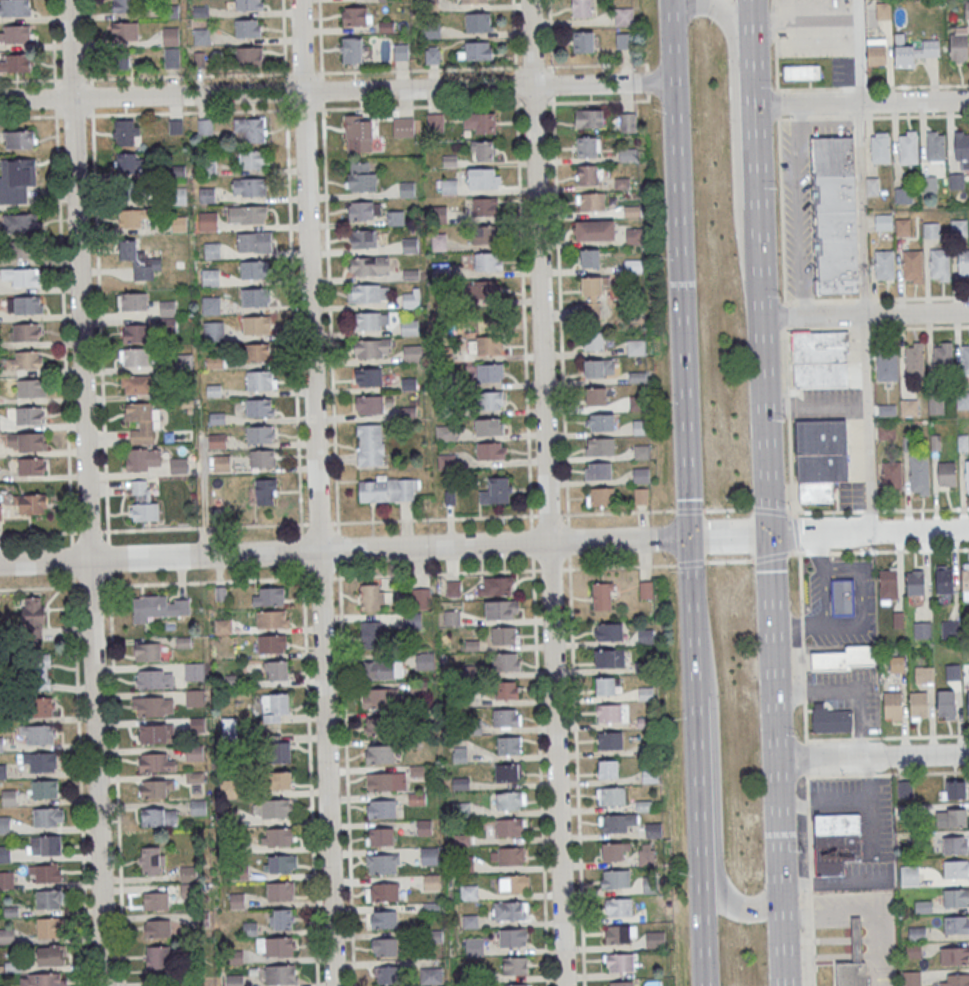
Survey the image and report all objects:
building: (387, 0)
building: (474, 1)
building: (249, 5)
building: (431, 5)
building: (123, 6)
building: (15, 8)
building: (583, 8)
building: (967, 9)
building: (884, 11)
building: (356, 15)
building: (624, 16)
building: (479, 22)
building: (387, 26)
building: (248, 28)
building: (124, 30)
building: (432, 30)
building: (14, 33)
road: (513, 33)
road: (550, 33)
building: (201, 36)
road: (284, 36)
building: (624, 40)
building: (585, 41)
road: (671, 42)
building: (171, 47)
building: (959, 47)
building: (352, 50)
building: (477, 50)
building: (401, 52)
road: (755, 54)
building: (877, 54)
building: (249, 55)
building: (432, 55)
building: (904, 55)
building: (199, 58)
building: (122, 61)
building: (14, 62)
road: (599, 64)
road: (533, 66)
building: (800, 72)
road: (257, 73)
road: (646, 81)
road: (552, 83)
road: (515, 85)
road: (918, 85)
road: (861, 87)
road: (815, 88)
road: (336, 90)
road: (600, 101)
road: (534, 102)
road: (863, 104)
road: (227, 110)
road: (916, 114)
road: (27, 116)
road: (815, 117)
road: (857, 117)
building: (589, 118)
building: (434, 121)
building: (479, 122)
building: (627, 122)
building: (204, 126)
building: (403, 127)
road: (735, 128)
building: (250, 129)
building: (126, 132)
building: (359, 133)
building: (19, 139)
building: (961, 145)
building: (588, 147)
building: (908, 147)
building: (936, 147)
building: (881, 148)
building: (482, 150)
road: (779, 151)
building: (628, 154)
building: (252, 159)
road: (760, 160)
building: (127, 163)
building: (588, 174)
building: (361, 177)
building: (484, 178)
building: (16, 180)
building: (957, 181)
building: (621, 183)
building: (929, 185)
building: (249, 186)
building: (448, 186)
building: (872, 186)
building: (134, 190)
building: (206, 195)
building: (904, 196)
building: (591, 201)
building: (485, 206)
building: (360, 210)
building: (438, 210)
building: (247, 214)
building: (835, 215)
building: (395, 217)
building: (130, 220)
building: (207, 221)
building: (884, 222)
building: (19, 223)
building: (903, 227)
building: (959, 228)
building: (595, 230)
building: (931, 230)
building: (486, 234)
building: (363, 238)
building: (254, 241)
building: (22, 249)
building: (130, 251)
building: (589, 258)
building: (487, 261)
road: (763, 263)
building: (964, 263)
building: (940, 264)
road: (862, 265)
building: (885, 265)
building: (369, 266)
building: (913, 266)
building: (253, 269)
building: (22, 276)
building: (482, 290)
building: (368, 293)
building: (255, 297)
building: (592, 297)
road: (919, 297)
building: (411, 299)
road: (822, 299)
road: (865, 299)
building: (132, 301)
building: (24, 305)
building: (210, 305)
building: (167, 308)
road: (560, 308)
road: (523, 309)
road: (682, 310)
road: (866, 312)
road: (784, 314)
building: (372, 320)
building: (256, 325)
building: (409, 327)
road: (877, 327)
building: (213, 330)
building: (26, 331)
building: (135, 333)
building: (593, 341)
building: (485, 345)
building: (637, 346)
building: (374, 348)
building: (257, 352)
building: (412, 353)
building: (134, 357)
building: (821, 359)
building: (915, 359)
building: (944, 359)
building: (965, 359)
building: (25, 360)
building: (887, 364)
building: (599, 367)
building: (490, 372)
building: (368, 376)
building: (259, 380)
building: (136, 384)
building: (30, 387)
building: (596, 396)
building: (963, 399)
building: (490, 400)
building: (369, 404)
building: (935, 405)
building: (908, 406)
building: (259, 408)
building: (29, 415)
road: (788, 420)
building: (141, 422)
building: (601, 422)
road: (768, 425)
building: (491, 426)
building: (640, 427)
building: (888, 432)
building: (260, 433)
building: (443, 433)
building: (217, 440)
building: (26, 441)
building: (370, 444)
building: (600, 446)
building: (490, 450)
building: (642, 451)
building: (262, 458)
building: (143, 459)
building: (821, 459)
building: (221, 462)
building: (178, 465)
building: (31, 466)
building: (598, 470)
building: (891, 474)
building: (920, 474)
building: (948, 474)
building: (641, 475)
building: (967, 476)
building: (387, 490)
building: (266, 491)
building: (497, 491)
road: (335, 492)
road: (85, 493)
road: (316, 493)
road: (546, 493)
building: (599, 496)
building: (641, 496)
road: (203, 498)
building: (142, 502)
building: (32, 504)
road: (924, 508)
road: (696, 509)
road: (726, 509)
road: (769, 509)
road: (871, 510)
road: (826, 511)
building: (0, 512)
road: (620, 512)
road: (548, 514)
road: (319, 523)
road: (104, 531)
road: (90, 532)
road: (796, 532)
road: (870, 532)
road: (39, 533)
traffic signals: (772, 535)
road: (731, 536)
road: (108, 537)
road: (72, 538)
traffic signals: (691, 538)
road: (567, 541)
road: (530, 542)
road: (345, 549)
road: (880, 551)
road: (771, 556)
road: (109, 559)
road: (73, 560)
road: (721, 560)
road: (621, 566)
road: (550, 568)
road: (320, 576)
building: (965, 579)
road: (692, 580)
building: (944, 581)
building: (916, 582)
building: (889, 584)
road: (106, 585)
building: (496, 585)
road: (92, 586)
road: (40, 587)
building: (453, 588)
building: (646, 589)
building: (268, 595)
building: (603, 595)
building: (421, 596)
building: (372, 597)
building: (842, 597)
building: (158, 606)
building: (502, 609)
building: (33, 617)
building: (452, 617)
building: (272, 619)
building: (412, 621)
building: (223, 626)
building: (923, 630)
building: (950, 630)
building: (609, 631)
building: (371, 633)
building: (503, 635)
building: (645, 636)
building: (272, 643)
road: (774, 646)
building: (148, 651)
building: (610, 657)
building: (845, 658)
building: (425, 660)
building: (507, 661)
building: (897, 665)
building: (278, 669)
building: (385, 669)
building: (193, 670)
building: (39, 671)
building: (953, 672)
building: (923, 675)
building: (154, 678)
building: (606, 685)
building: (507, 689)
building: (194, 697)
building: (380, 698)
building: (968, 700)
building: (947, 703)
building: (919, 704)
building: (41, 706)
building: (152, 706)
building: (274, 706)
building: (893, 706)
building: (609, 713)
building: (506, 717)
building: (830, 719)
road: (805, 725)
building: (380, 726)
building: (155, 733)
building: (37, 734)
building: (610, 740)
building: (0, 744)
building: (508, 745)
building: (282, 752)
building: (379, 753)
road: (873, 756)
building: (39, 761)
building: (157, 762)
building: (608, 768)
building: (508, 772)
building: (650, 776)
road: (539, 777)
road: (576, 777)
road: (116, 780)
building: (280, 780)
road: (310, 780)
road: (80, 781)
building: (386, 781)
building: (44, 788)
building: (154, 789)
building: (905, 789)
building: (957, 790)
road: (716, 791)
building: (611, 796)
building: (8, 797)
road: (806, 799)
building: (510, 800)
road: (699, 804)
building: (272, 808)
building: (384, 808)
building: (907, 812)
building: (47, 816)
building: (154, 816)
building: (957, 818)
building: (616, 822)
building: (4, 824)
building: (424, 826)
road: (780, 826)
building: (509, 827)
building: (653, 830)
building: (277, 836)
building: (380, 836)
building: (836, 842)
building: (44, 845)
building: (955, 845)
building: (616, 851)
building: (4, 853)
building: (646, 854)
building: (430, 855)
building: (507, 855)
building: (151, 860)
building: (282, 863)
building: (382, 863)
building: (957, 870)
building: (45, 873)
building: (910, 876)
building: (615, 878)
building: (431, 881)
building: (513, 883)
building: (281, 891)
building: (382, 891)
building: (469, 892)
building: (956, 898)
building: (48, 899)
building: (156, 901)
building: (619, 906)
building: (432, 907)
building: (923, 907)
road: (868, 909)
building: (510, 910)
building: (283, 919)
building: (384, 919)
building: (956, 925)
building: (48, 927)
building: (158, 929)
building: (917, 933)
building: (617, 934)
building: (6, 936)
building: (513, 937)
road: (784, 939)
building: (385, 946)
building: (474, 946)
building: (279, 947)
building: (914, 950)
building: (51, 955)
building: (955, 956)
building: (156, 957)
building: (854, 961)
building: (619, 962)
building: (515, 965)
building: (387, 974)
building: (281, 975)
building: (431, 975)
building: (42, 979)
building: (913, 979)
building: (234, 980)
building: (957, 980)
building: (620, 983)
building: (516, 984)
road: (886, 985)

